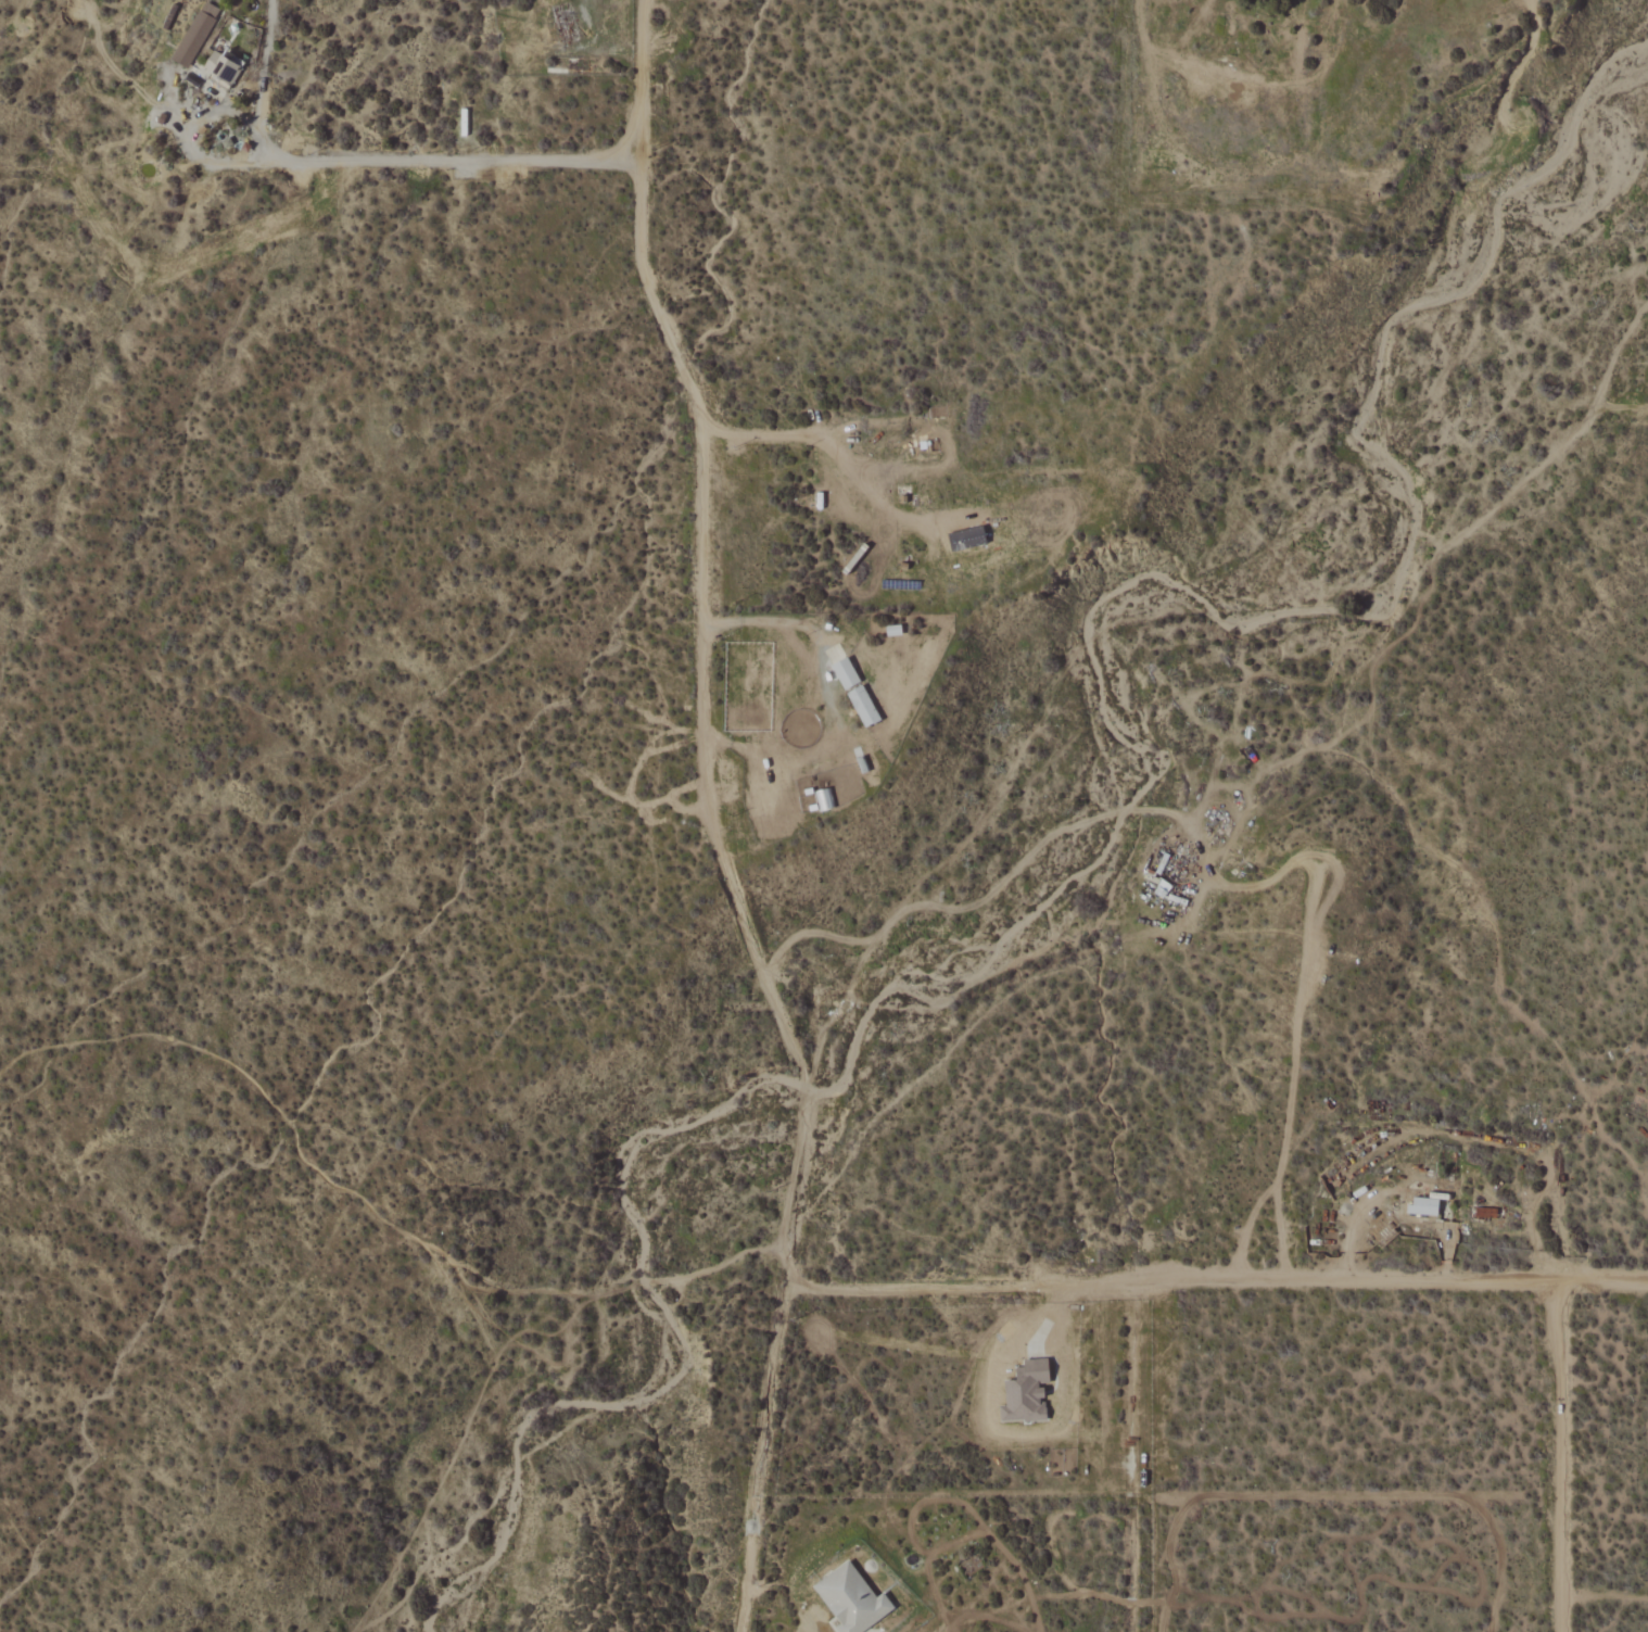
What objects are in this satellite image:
building: (195, 35)
road: (378, 162)
road: (827, 445)
building: (966, 539)
building: (845, 673)
road: (826, 692)
building: (863, 706)
road: (711, 820)
road: (1206, 869)
road: (1518, 1139)
building: (1422, 1206)
road: (1245, 1226)
road: (1215, 1277)
building: (1025, 1392)
road: (1142, 1454)
road: (1556, 1456)
building: (851, 1599)

